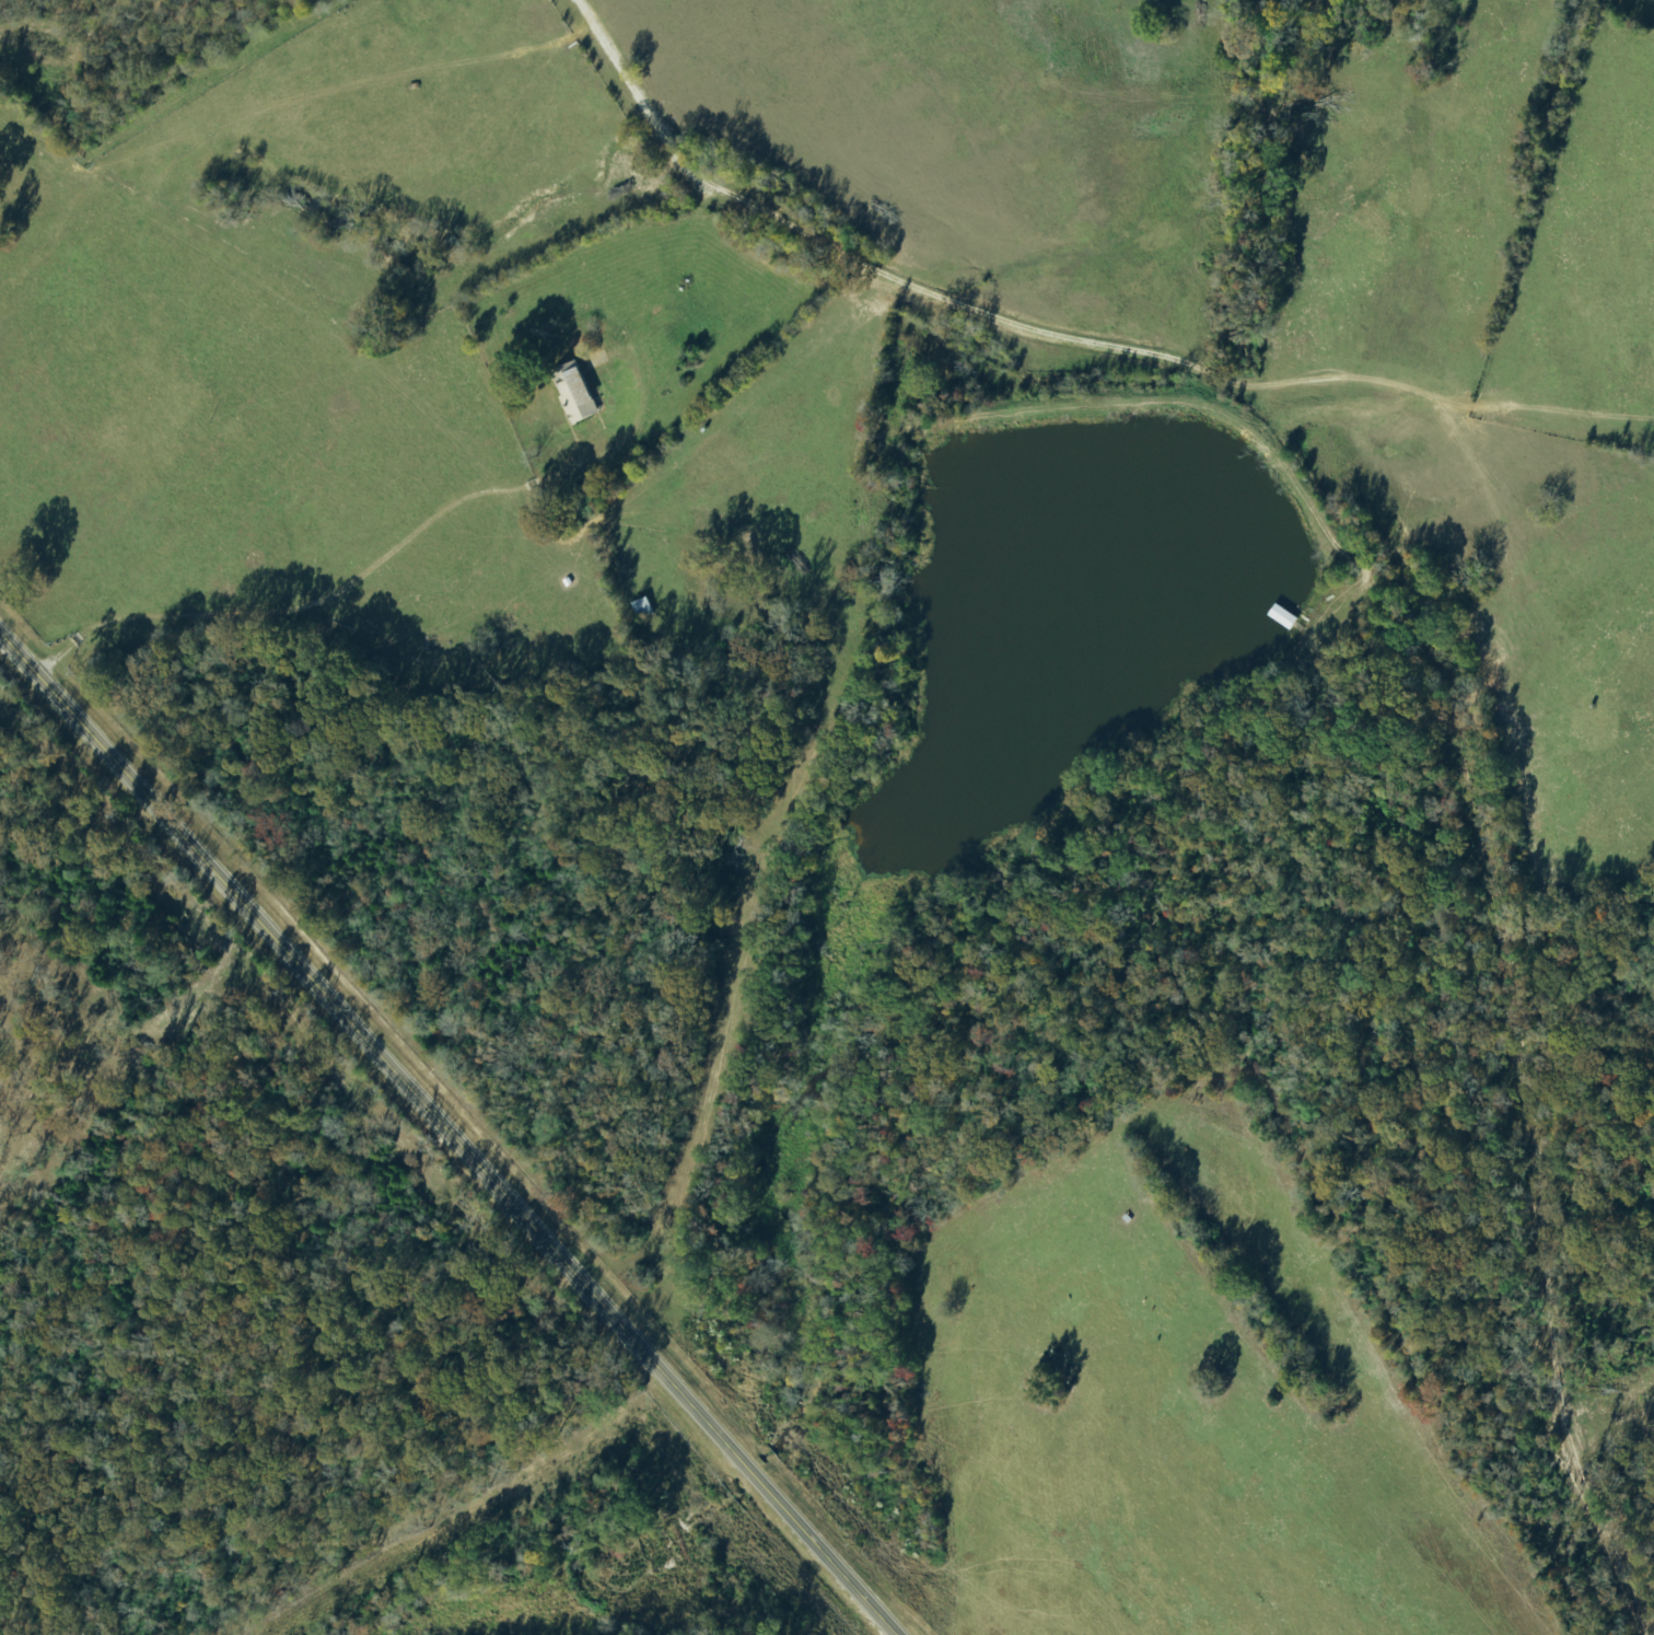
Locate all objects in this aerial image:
building: (572, 394)
road: (394, 469)
road: (450, 1133)

